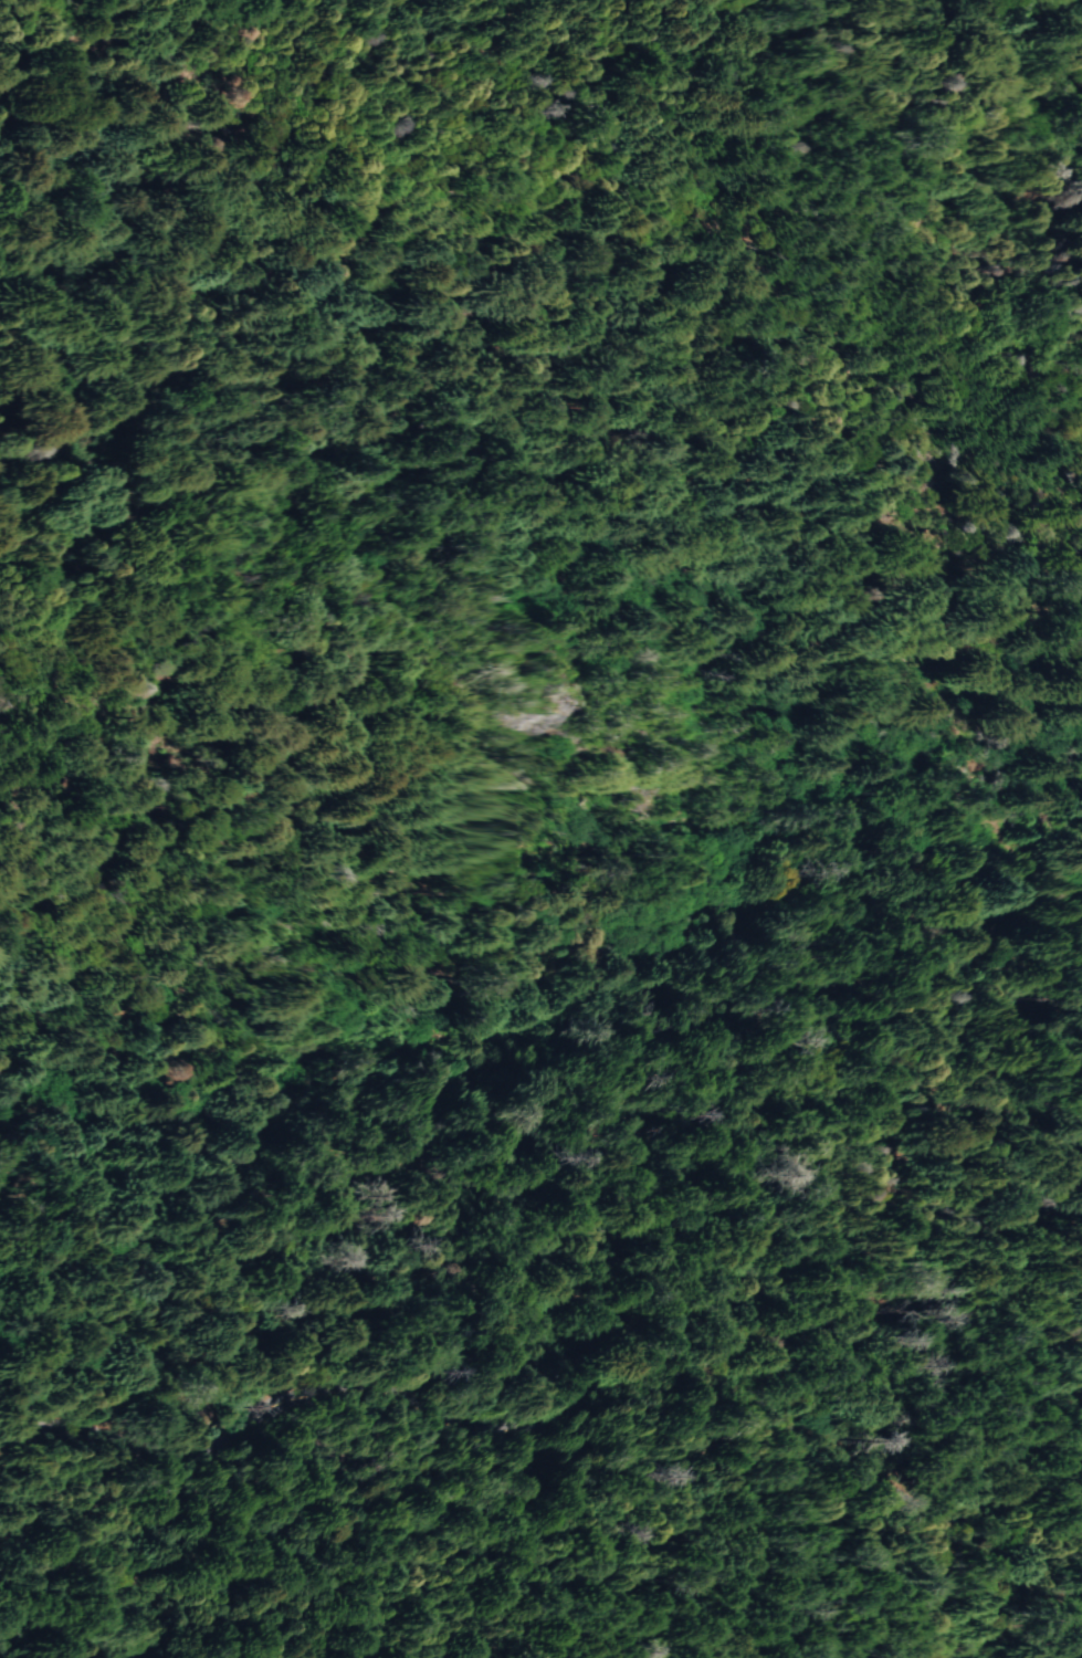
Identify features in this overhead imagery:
road: (844, 146)
road: (894, 621)
road: (1029, 763)
road: (997, 817)
road: (10, 1379)
road: (610, 1389)
road: (56, 1410)

